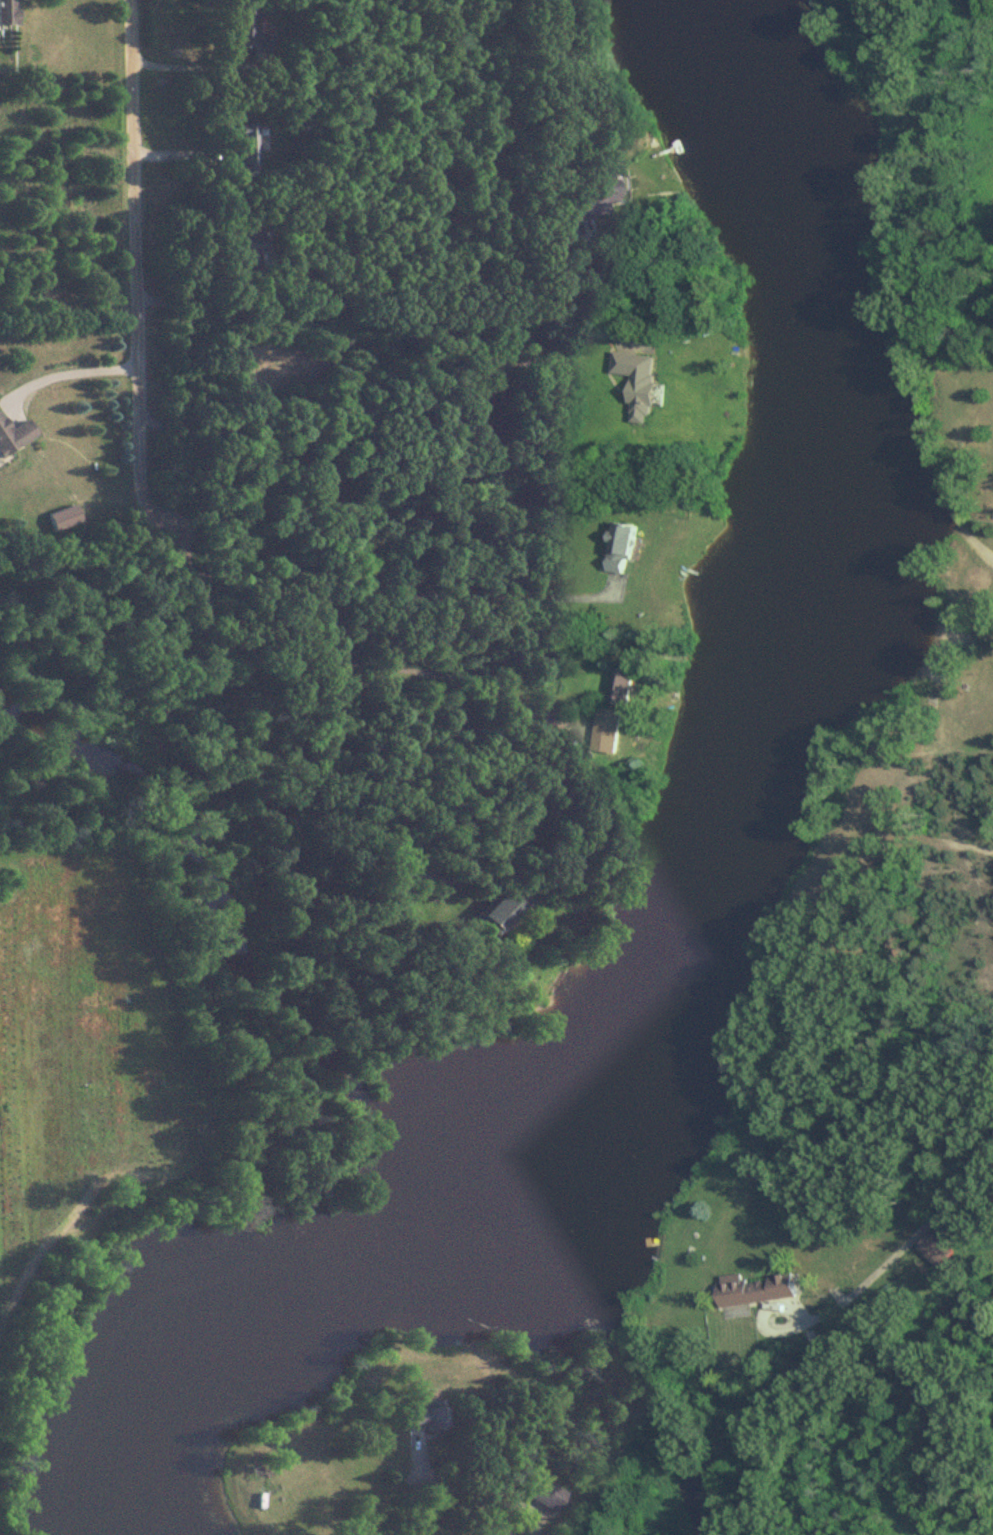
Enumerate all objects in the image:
building: (6, 11)
building: (247, 31)
road: (181, 56)
building: (246, 146)
building: (592, 195)
building: (247, 247)
road: (135, 274)
road: (351, 280)
road: (66, 374)
road: (382, 392)
building: (13, 435)
road: (973, 542)
building: (622, 547)
road: (367, 594)
road: (460, 671)
building: (622, 687)
road: (334, 750)
building: (501, 907)
road: (905, 1243)
building: (938, 1250)
building: (756, 1289)
road: (757, 1318)
building: (425, 1416)
road: (414, 1436)
road: (423, 1478)
building: (545, 1494)
road: (518, 1502)
road: (480, 1516)

